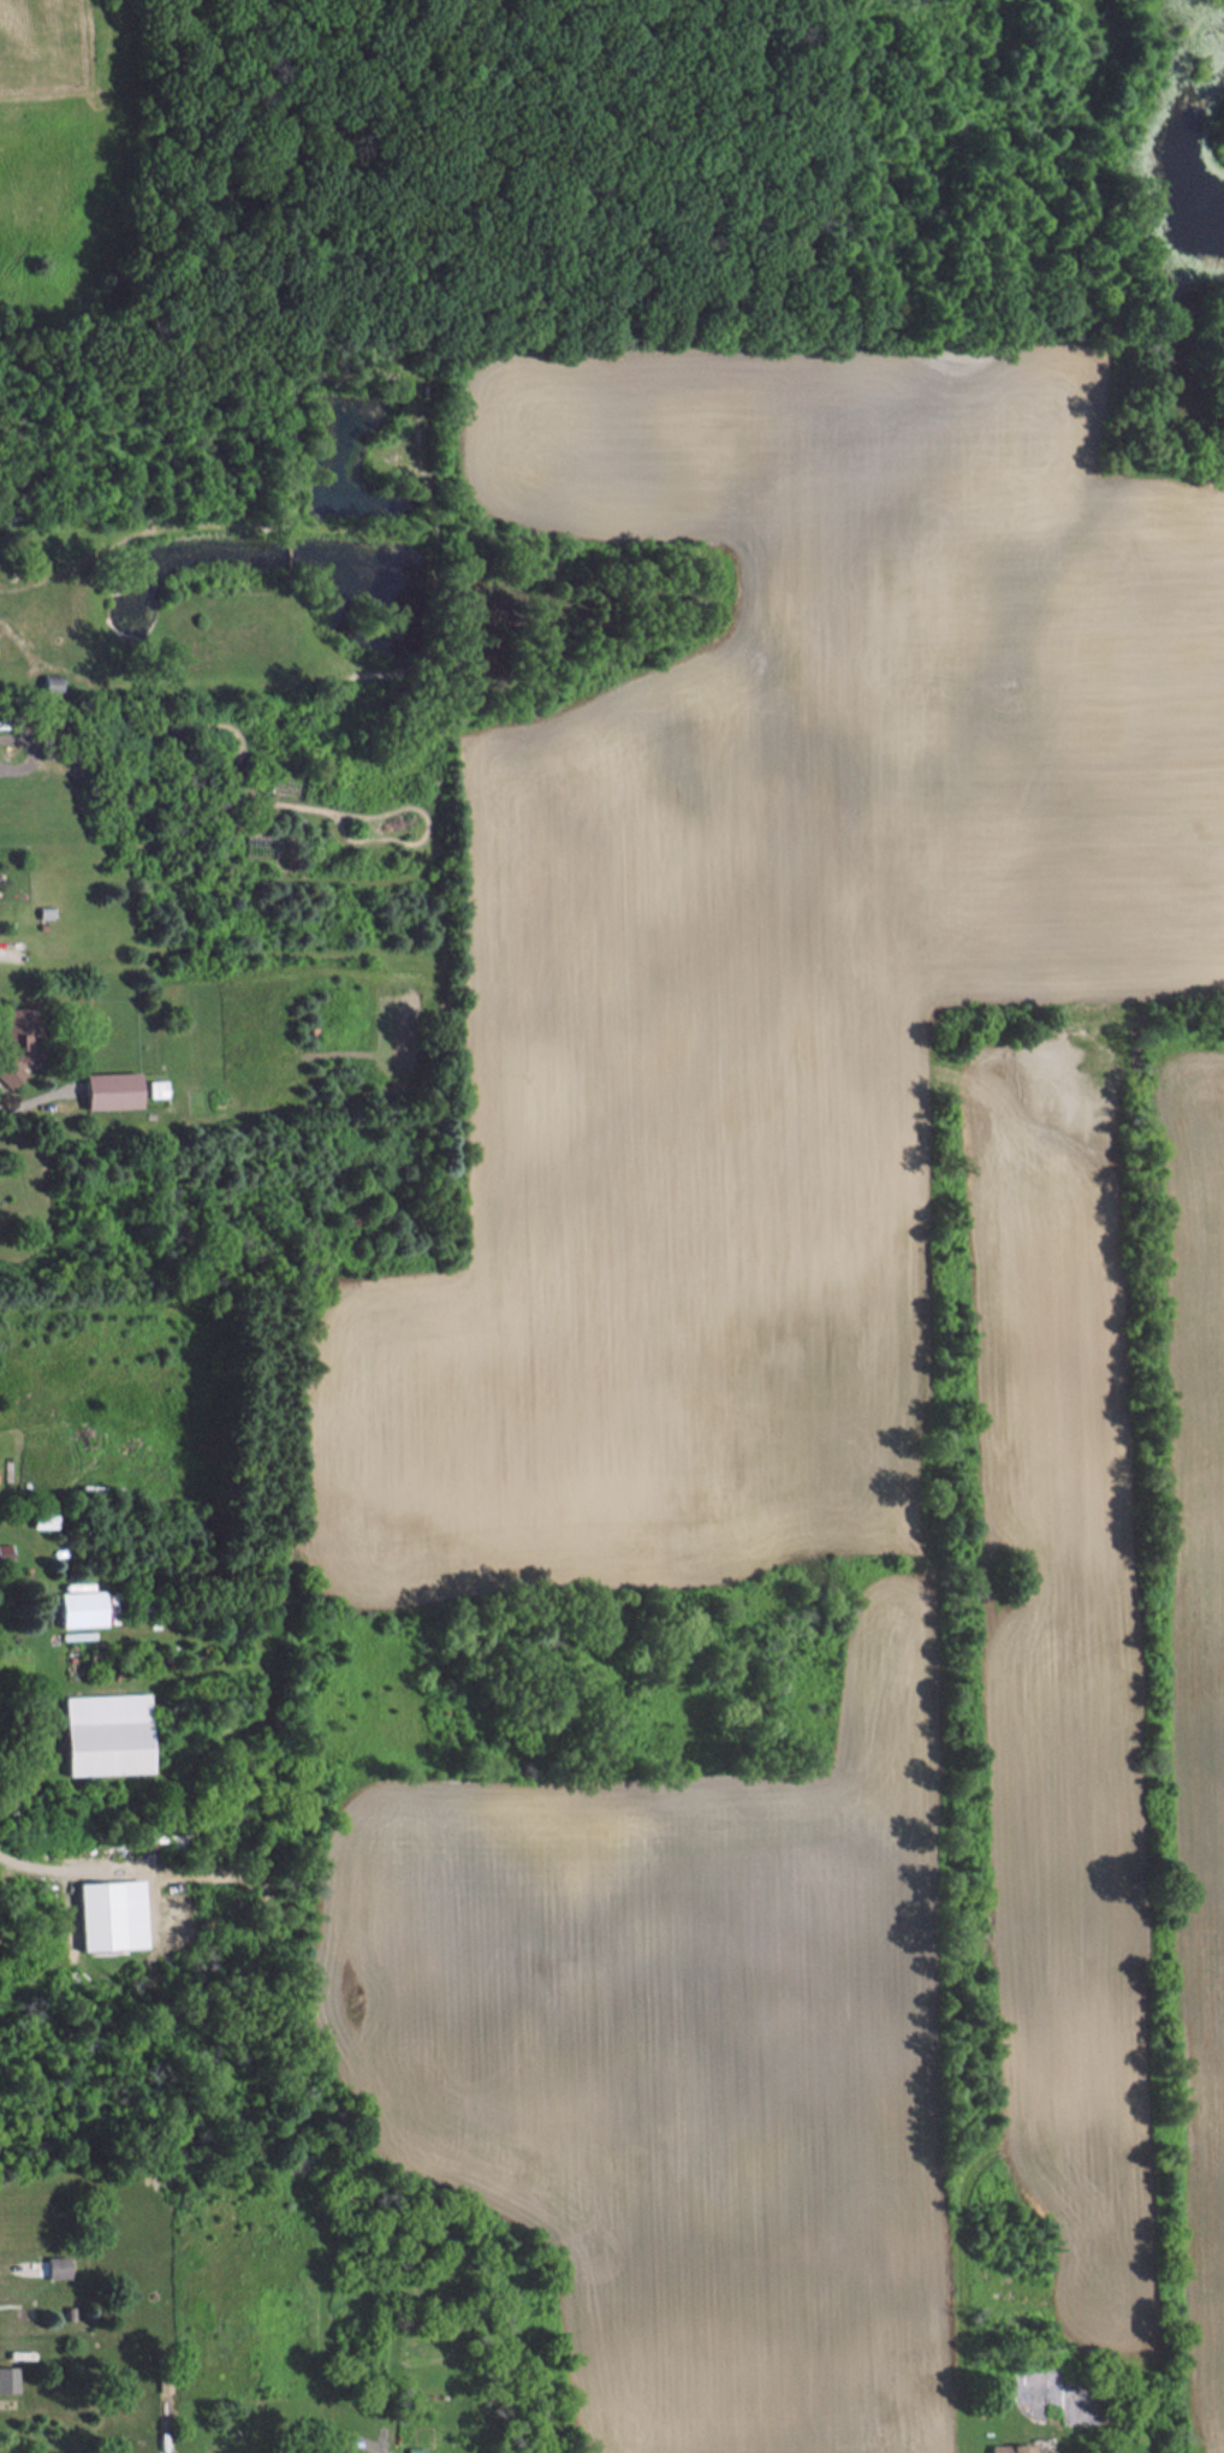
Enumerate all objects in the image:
building: (53, 685)
building: (23, 1043)
building: (115, 1091)
building: (46, 1518)
building: (84, 1607)
building: (111, 1735)
building: (254, 1748)
road: (32, 1865)
building: (115, 1915)
building: (60, 2268)
building: (10, 2380)

